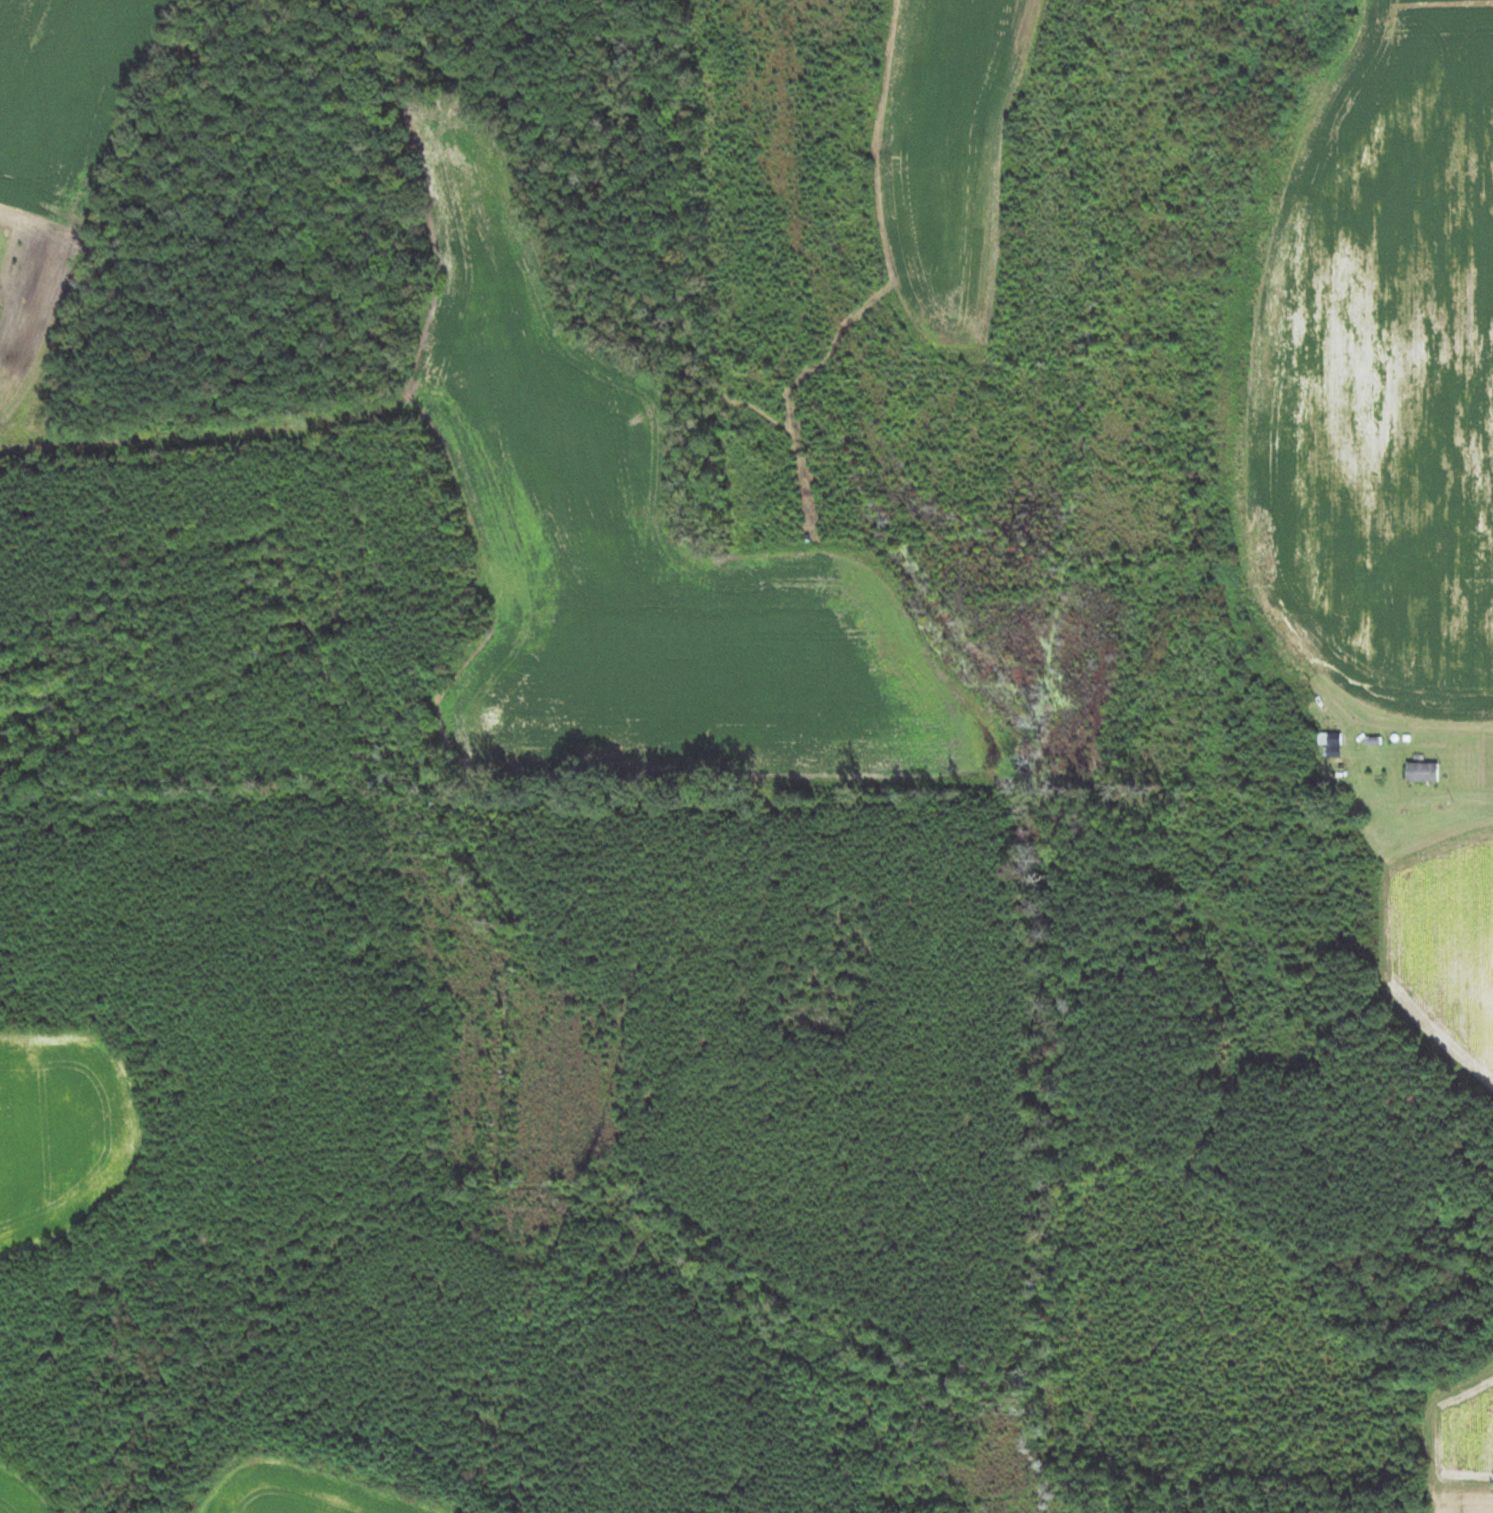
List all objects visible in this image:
building: (1334, 744)
building: (1422, 772)

